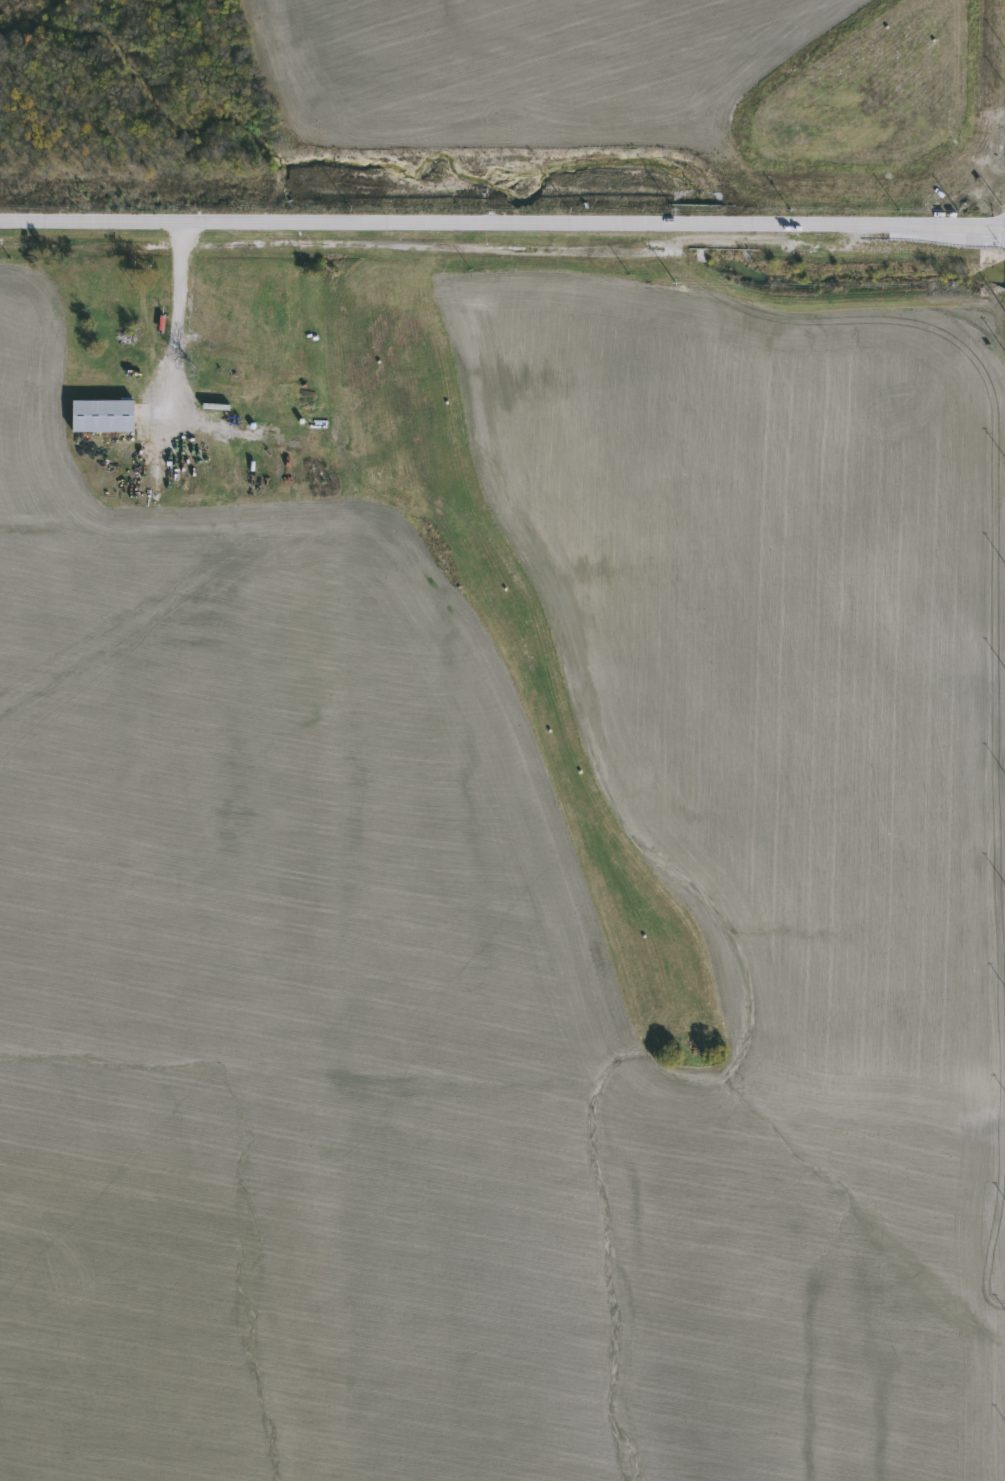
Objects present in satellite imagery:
road: (502, 223)
building: (278, 314)
road: (172, 323)
building: (101, 416)
crop: (496, 923)

